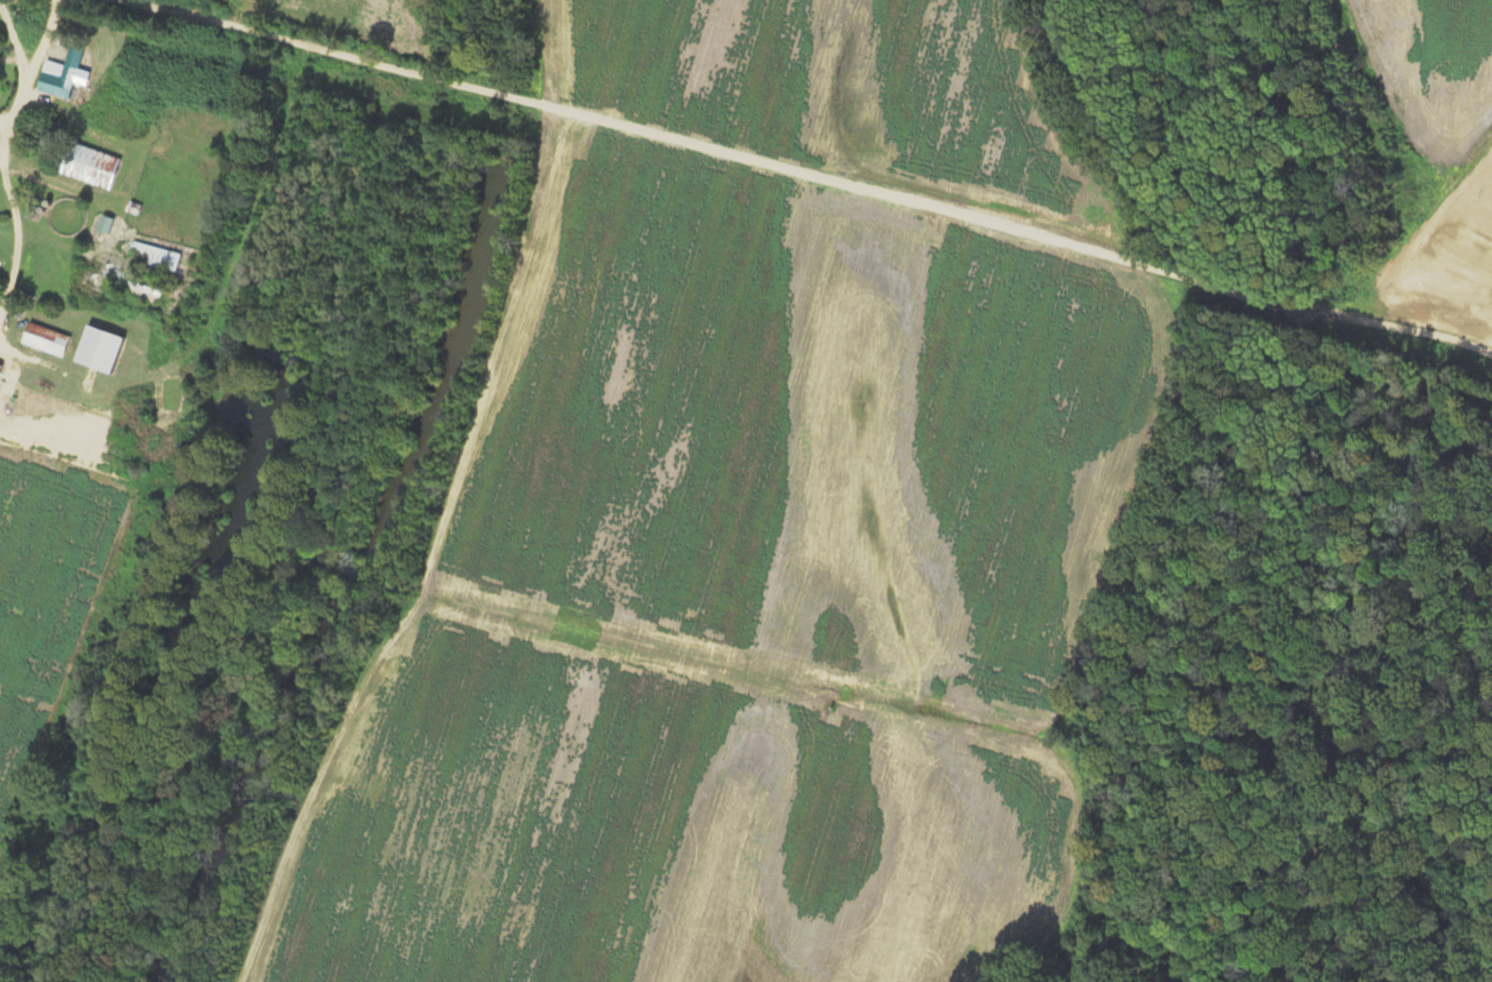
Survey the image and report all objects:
road: (442, 33)
road: (310, 40)
road: (23, 58)
building: (60, 79)
building: (92, 166)
road: (997, 213)
road: (19, 238)
building: (152, 273)
building: (48, 340)
building: (102, 350)
building: (1, 371)

